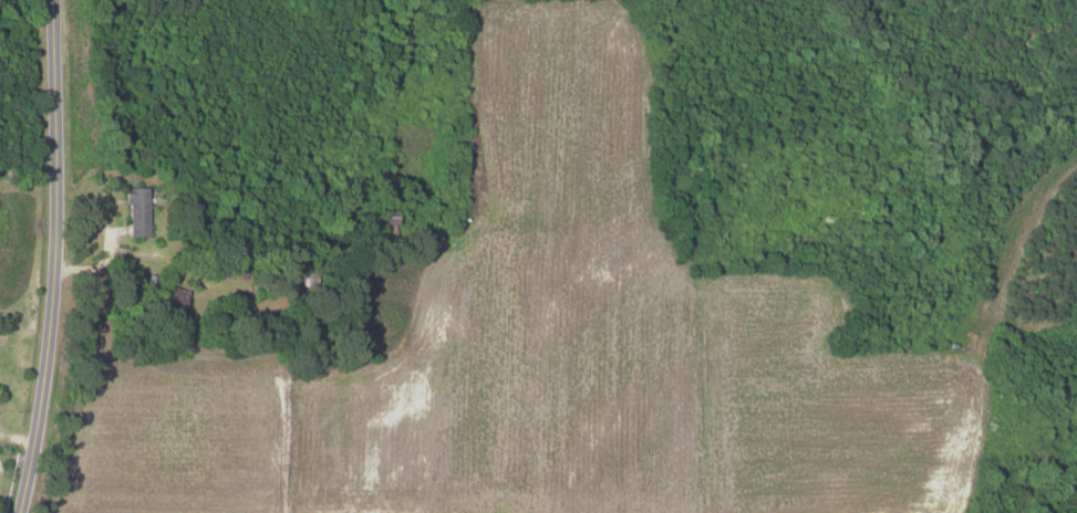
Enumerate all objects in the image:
building: (135, 210)
road: (51, 258)
road: (15, 436)

